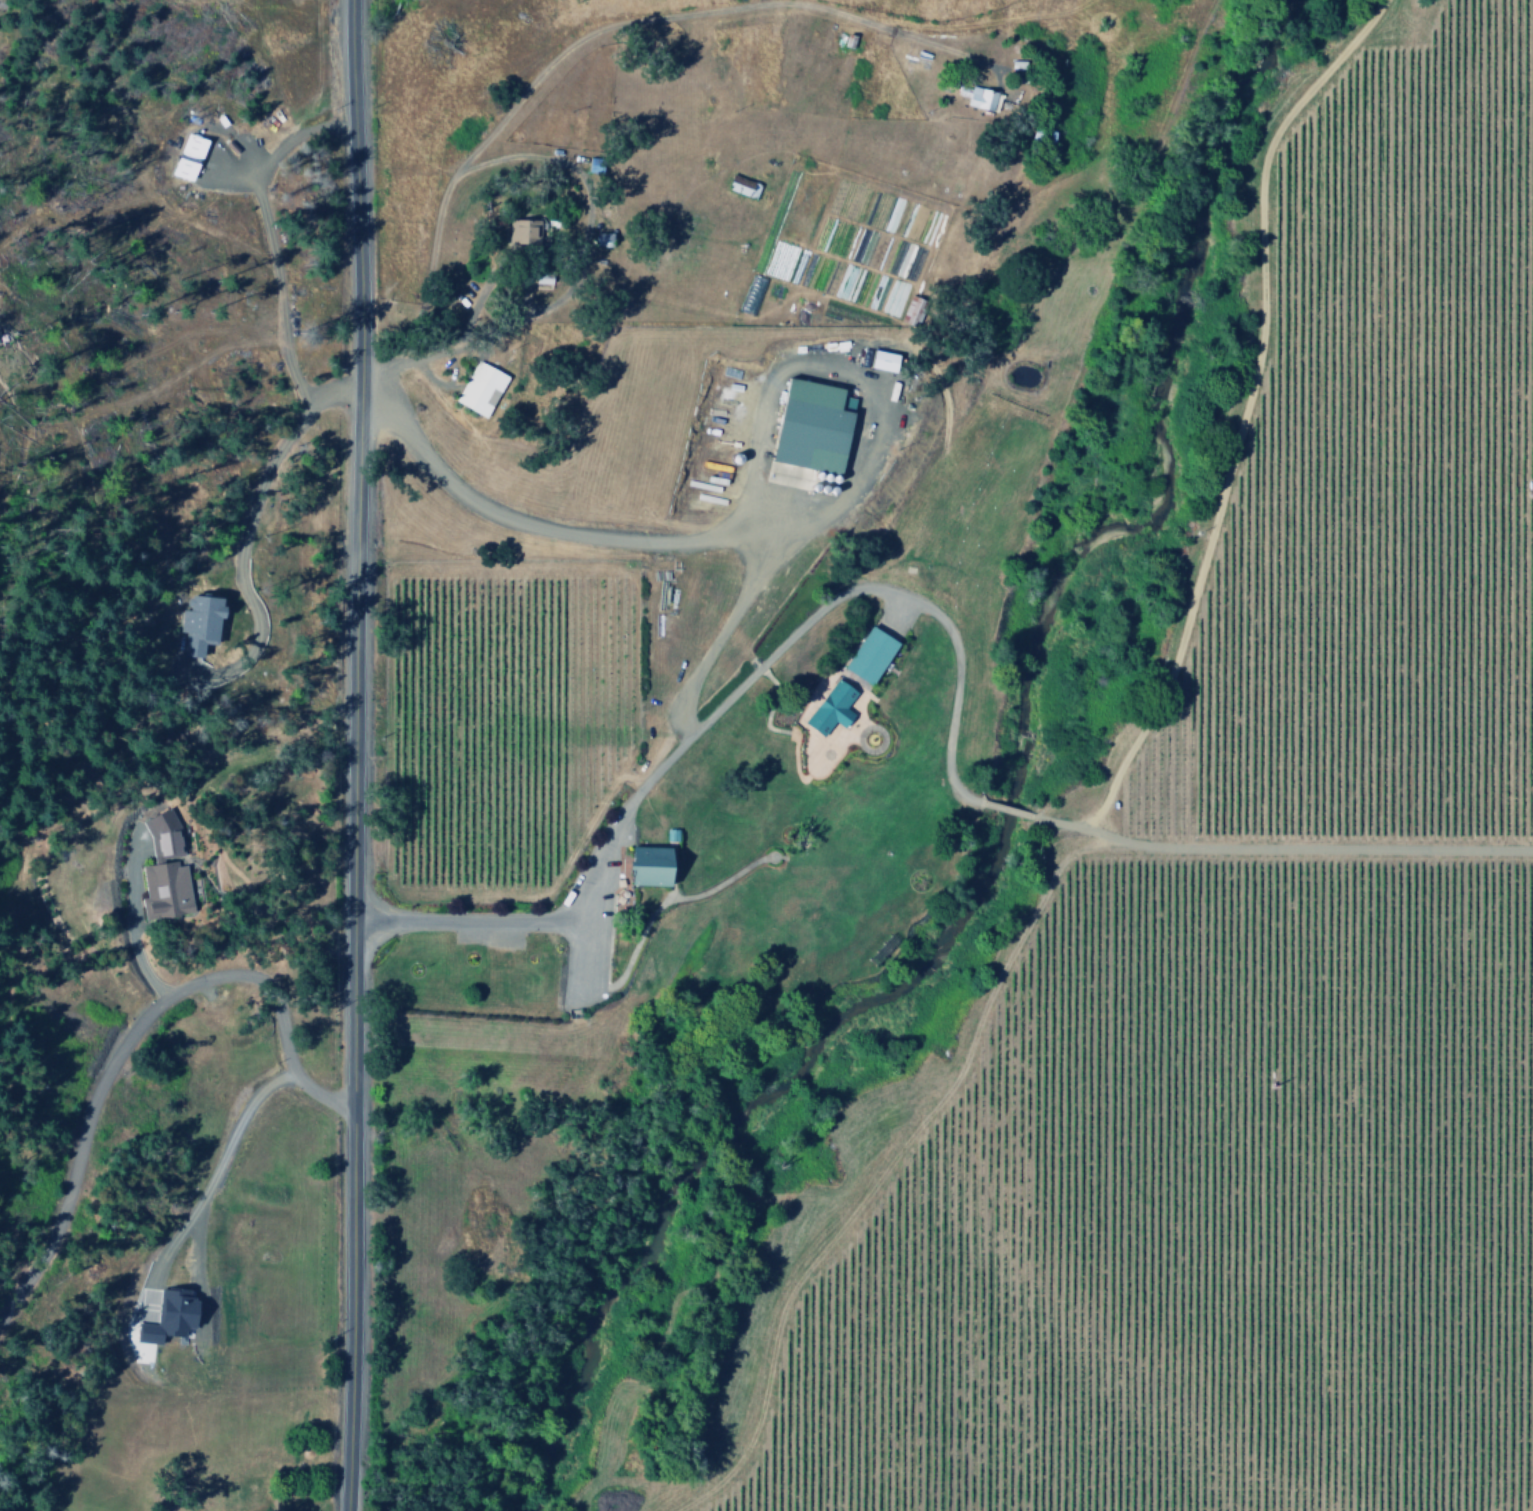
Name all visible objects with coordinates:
road: (582, 38)
building: (1014, 69)
building: (975, 97)
building: (186, 157)
building: (521, 232)
building: (879, 360)
building: (477, 389)
road: (1241, 408)
building: (806, 427)
building: (200, 624)
building: (868, 653)
road: (723, 701)
building: (828, 706)
road: (772, 728)
fountain: (869, 738)
road: (351, 755)
road: (1014, 812)
road: (1280, 849)
building: (648, 866)
building: (162, 869)
road: (665, 898)
road: (255, 910)
parking lot: (588, 927)
road: (132, 1031)
road: (887, 1165)
road: (197, 1204)
building: (166, 1318)

